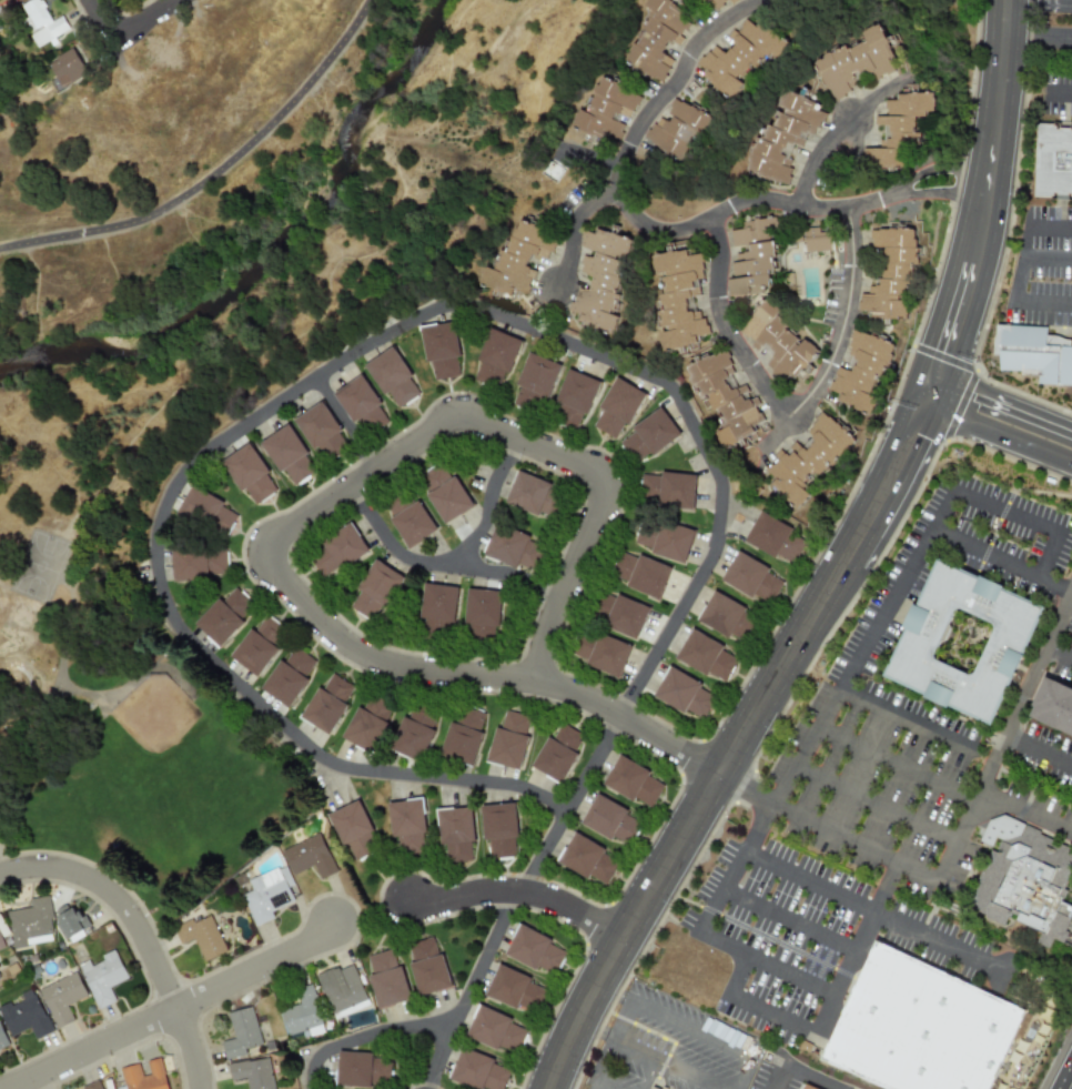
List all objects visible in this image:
road: (1040, 1)
building: (724, 2)
road: (101, 19)
road: (143, 19)
building: (42, 22)
building: (659, 37)
road: (1039, 39)
building: (742, 53)
building: (860, 60)
building: (67, 68)
road: (1062, 90)
building: (610, 108)
road: (222, 113)
building: (679, 125)
building: (901, 128)
road: (840, 133)
building: (788, 137)
road: (590, 159)
building: (1055, 162)
building: (572, 167)
road: (212, 172)
road: (90, 184)
road: (85, 204)
road: (989, 208)
road: (1050, 226)
road: (576, 231)
road: (675, 234)
building: (820, 239)
river: (275, 246)
building: (756, 255)
road: (1048, 255)
building: (520, 259)
road: (1021, 263)
building: (893, 274)
building: (603, 278)
park: (185, 291)
building: (682, 298)
road: (1043, 302)
building: (780, 341)
building: (441, 350)
traffic signals: (949, 351)
building: (1034, 354)
building: (495, 359)
building: (864, 371)
building: (392, 377)
road: (309, 381)
building: (535, 383)
building: (727, 396)
building: (574, 397)
traffic signals: (978, 397)
building: (361, 405)
building: (617, 409)
road: (1004, 409)
road: (793, 414)
road: (346, 423)
building: (321, 432)
traffic signals: (916, 434)
building: (648, 435)
road: (999, 435)
road: (522, 440)
road: (775, 440)
building: (289, 455)
building: (812, 458)
building: (249, 474)
building: (667, 490)
building: (445, 493)
building: (533, 495)
road: (491, 504)
building: (972, 508)
building: (206, 511)
building: (409, 520)
building: (663, 538)
building: (775, 538)
building: (512, 547)
building: (337, 552)
building: (199, 562)
road: (442, 565)
building: (640, 573)
building: (751, 578)
road: (899, 583)
road: (1053, 588)
building: (375, 591)
building: (437, 608)
building: (482, 614)
building: (620, 614)
building: (224, 615)
building: (725, 616)
building: (965, 643)
building: (259, 644)
building: (601, 653)
road: (1059, 654)
building: (706, 656)
building: (289, 676)
road: (481, 676)
building: (682, 693)
building: (327, 703)
building: (1059, 706)
road: (904, 718)
building: (367, 723)
building: (414, 732)
park: (122, 735)
building: (463, 735)
road: (1007, 736)
building: (509, 739)
park: (159, 746)
road: (736, 746)
building: (557, 753)
road: (1039, 753)
road: (897, 764)
building: (633, 782)
road: (745, 788)
road: (873, 804)
road: (1024, 814)
building: (610, 820)
building: (407, 826)
building: (353, 829)
building: (499, 829)
building: (455, 833)
road: (852, 841)
building: (309, 857)
road: (3, 858)
building: (586, 859)
building: (1029, 881)
road: (520, 891)
building: (267, 894)
road: (117, 898)
road: (518, 899)
road: (870, 910)
road: (787, 920)
building: (70, 921)
building: (31, 924)
building: (201, 937)
road: (854, 948)
building: (534, 950)
road: (765, 961)
building: (427, 967)
building: (103, 978)
building: (386, 979)
building: (342, 988)
building: (514, 990)
building: (62, 998)
road: (749, 1006)
road: (174, 1010)
building: (302, 1015)
building: (24, 1016)
building: (930, 1029)
building: (496, 1031)
building: (241, 1032)
road: (698, 1035)
road: (366, 1037)
building: (2, 1042)
road: (192, 1048)
road: (651, 1057)
building: (362, 1069)
building: (477, 1071)
building: (252, 1073)
building: (144, 1076)
road: (781, 1077)
road: (812, 1077)
building: (92, 1086)
building: (808, 1088)

